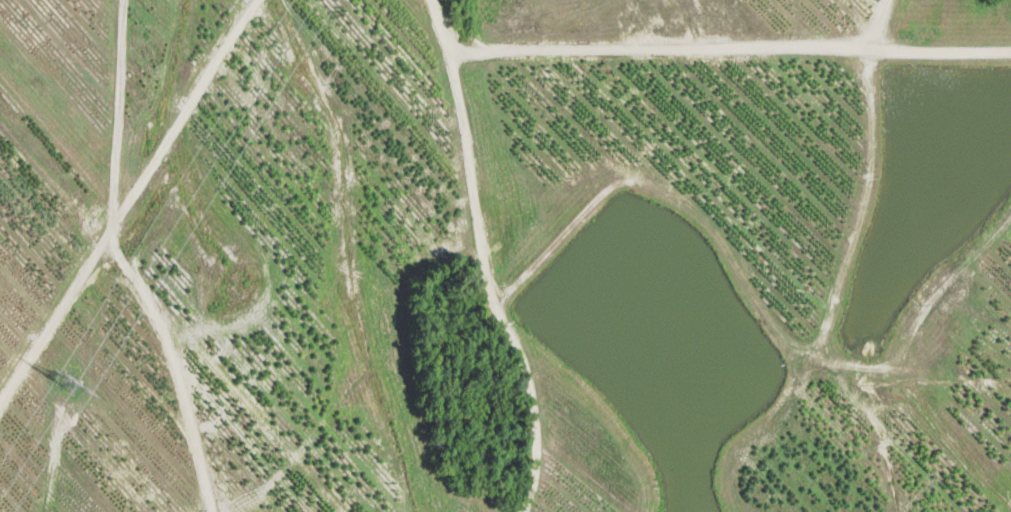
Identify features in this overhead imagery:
power tower: (71, 381)

